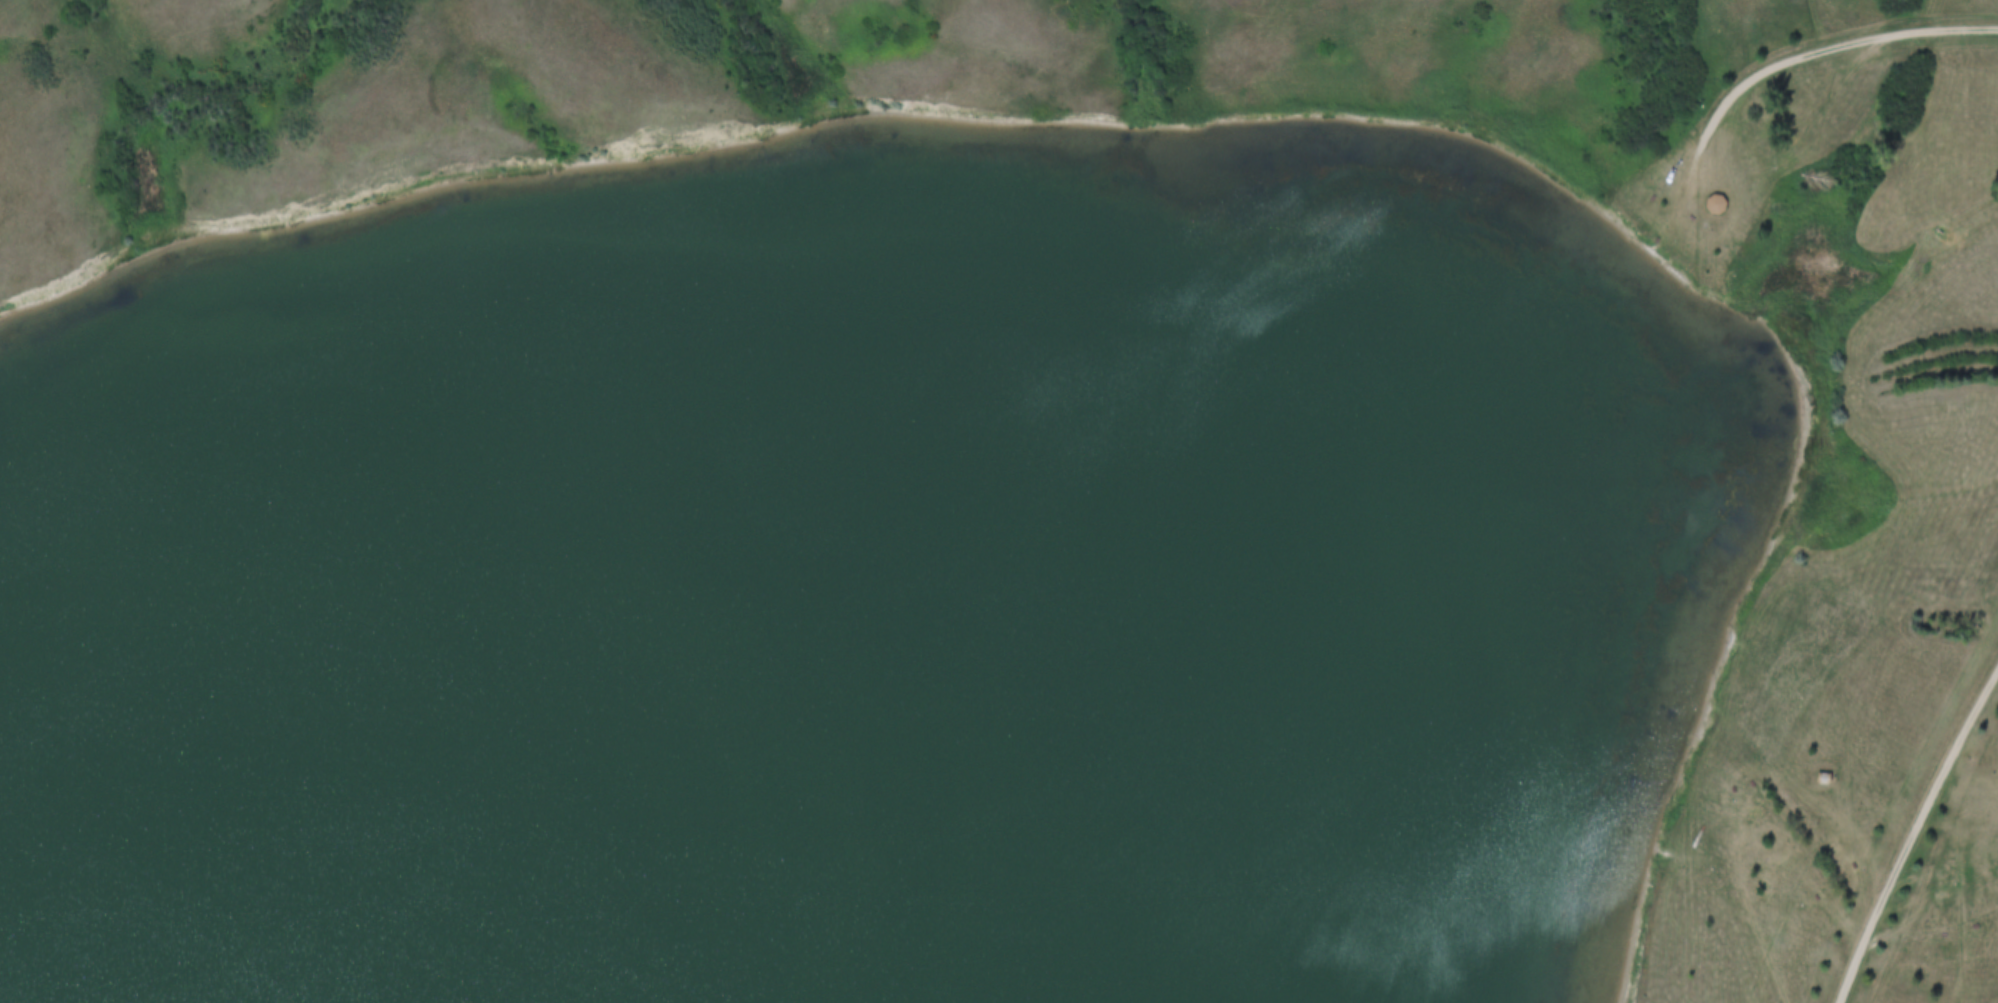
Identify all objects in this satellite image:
road: (1819, 52)
building: (1714, 194)
building: (1719, 205)
building: (1823, 770)
road: (1913, 835)

